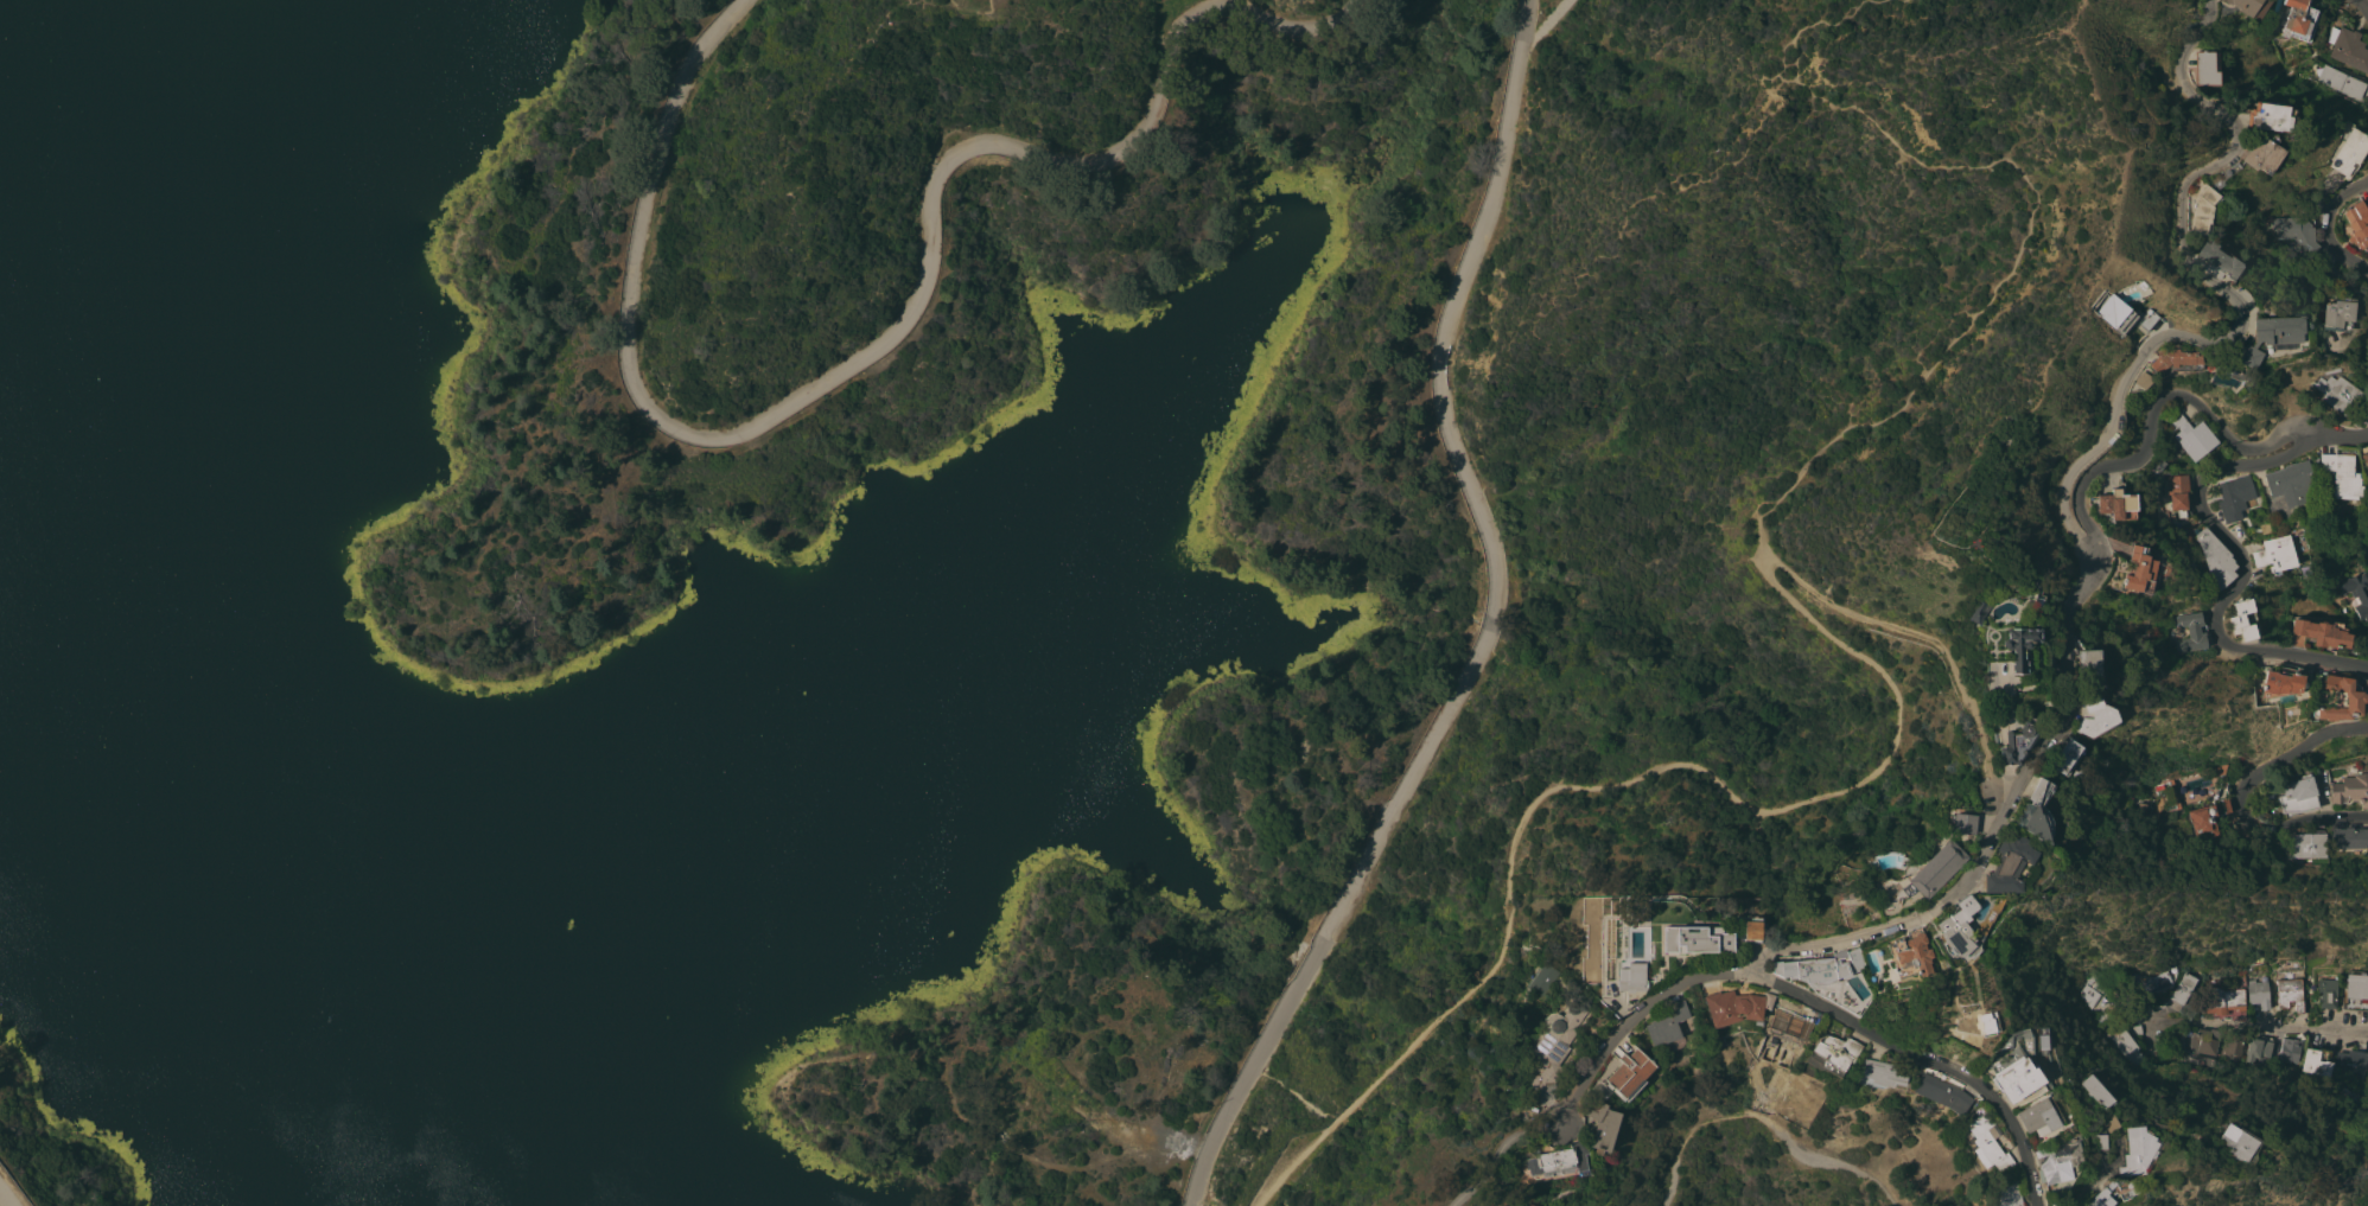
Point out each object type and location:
road: (2363, 4)
building: (2249, 7)
building: (2299, 19)
building: (2348, 47)
building: (2207, 68)
building: (2341, 82)
building: (2271, 117)
building: (2349, 152)
building: (2261, 154)
building: (2201, 206)
road: (2028, 216)
building: (2357, 224)
road: (2330, 225)
building: (2297, 230)
building: (2217, 260)
road: (2228, 296)
building: (2112, 313)
building: (2335, 315)
building: (2268, 337)
road: (883, 338)
building: (2175, 360)
building: (2140, 379)
building: (2334, 393)
building: (2362, 415)
road: (2152, 420)
building: (2189, 434)
road: (2337, 436)
building: (2364, 461)
building: (2338, 474)
building: (2292, 483)
building: (2178, 493)
building: (2235, 496)
building: (2119, 504)
building: (2275, 554)
building: (2215, 557)
building: (2138, 570)
road: (2242, 574)
building: (2031, 582)
building: (2357, 593)
building: (1976, 613)
building: (2245, 620)
road: (1488, 628)
building: (2191, 632)
building: (2322, 632)
road: (1925, 636)
building: (2016, 646)
building: (2087, 666)
building: (2280, 681)
building: (2255, 695)
building: (2337, 698)
building: (2092, 717)
building: (2013, 744)
building: (2063, 757)
building: (2220, 768)
road: (1602, 785)
building: (2350, 789)
building: (2169, 793)
road: (2240, 793)
building: (2298, 795)
building: (2032, 812)
building: (2205, 819)
building: (1960, 823)
road: (1987, 835)
building: (2349, 838)
building: (2307, 846)
building: (2004, 864)
building: (1931, 869)
building: (1642, 913)
building: (1955, 930)
building: (1752, 931)
building: (1694, 940)
building: (1910, 951)
building: (2170, 968)
building: (1631, 977)
building: (1831, 977)
building: (1543, 978)
building: (2146, 982)
building: (2094, 987)
building: (2183, 988)
building: (2326, 993)
building: (2356, 993)
building: (2258, 994)
building: (2290, 995)
building: (2221, 1000)
building: (2141, 1006)
building: (1734, 1007)
building: (2134, 1015)
road: (1629, 1019)
building: (1667, 1023)
road: (2232, 1023)
road: (2349, 1029)
building: (2208, 1041)
building: (2124, 1042)
building: (2233, 1044)
building: (1554, 1048)
building: (2292, 1048)
building: (2258, 1049)
building: (1833, 1054)
road: (1923, 1055)
building: (2316, 1063)
building: (2351, 1063)
building: (1880, 1073)
building: (1629, 1074)
building: (2013, 1079)
building: (2093, 1091)
building: (1940, 1092)
building: (2036, 1116)
road: (1765, 1118)
building: (2105, 1124)
building: (1602, 1127)
building: (2095, 1141)
building: (1982, 1142)
building: (2236, 1143)
road: (1495, 1149)
building: (2134, 1150)
building: (1557, 1160)
building: (2054, 1161)
road: (2094, 1175)
building: (2003, 1191)
building: (2099, 1197)
road: (4, 1200)

